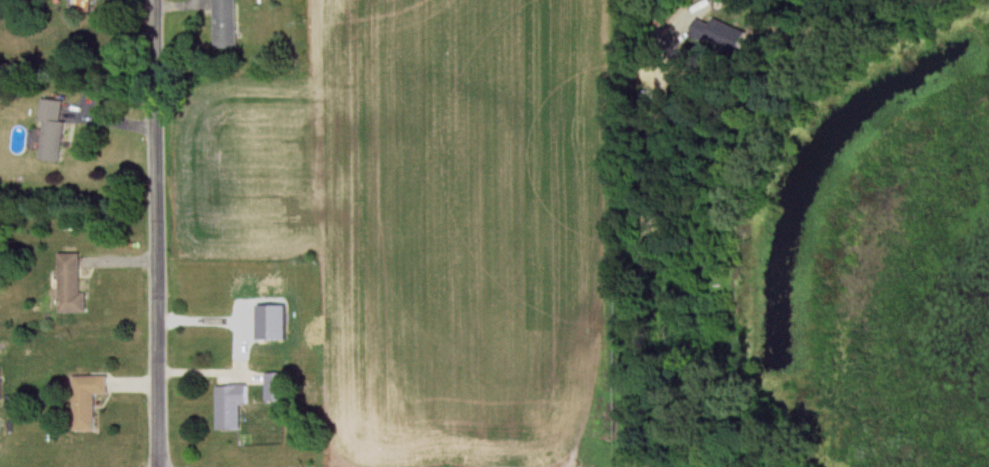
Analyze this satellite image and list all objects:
building: (81, 5)
building: (226, 23)
building: (53, 131)
road: (157, 233)
building: (71, 286)
road: (210, 373)
building: (0, 385)
building: (275, 387)
building: (87, 401)
building: (231, 406)

